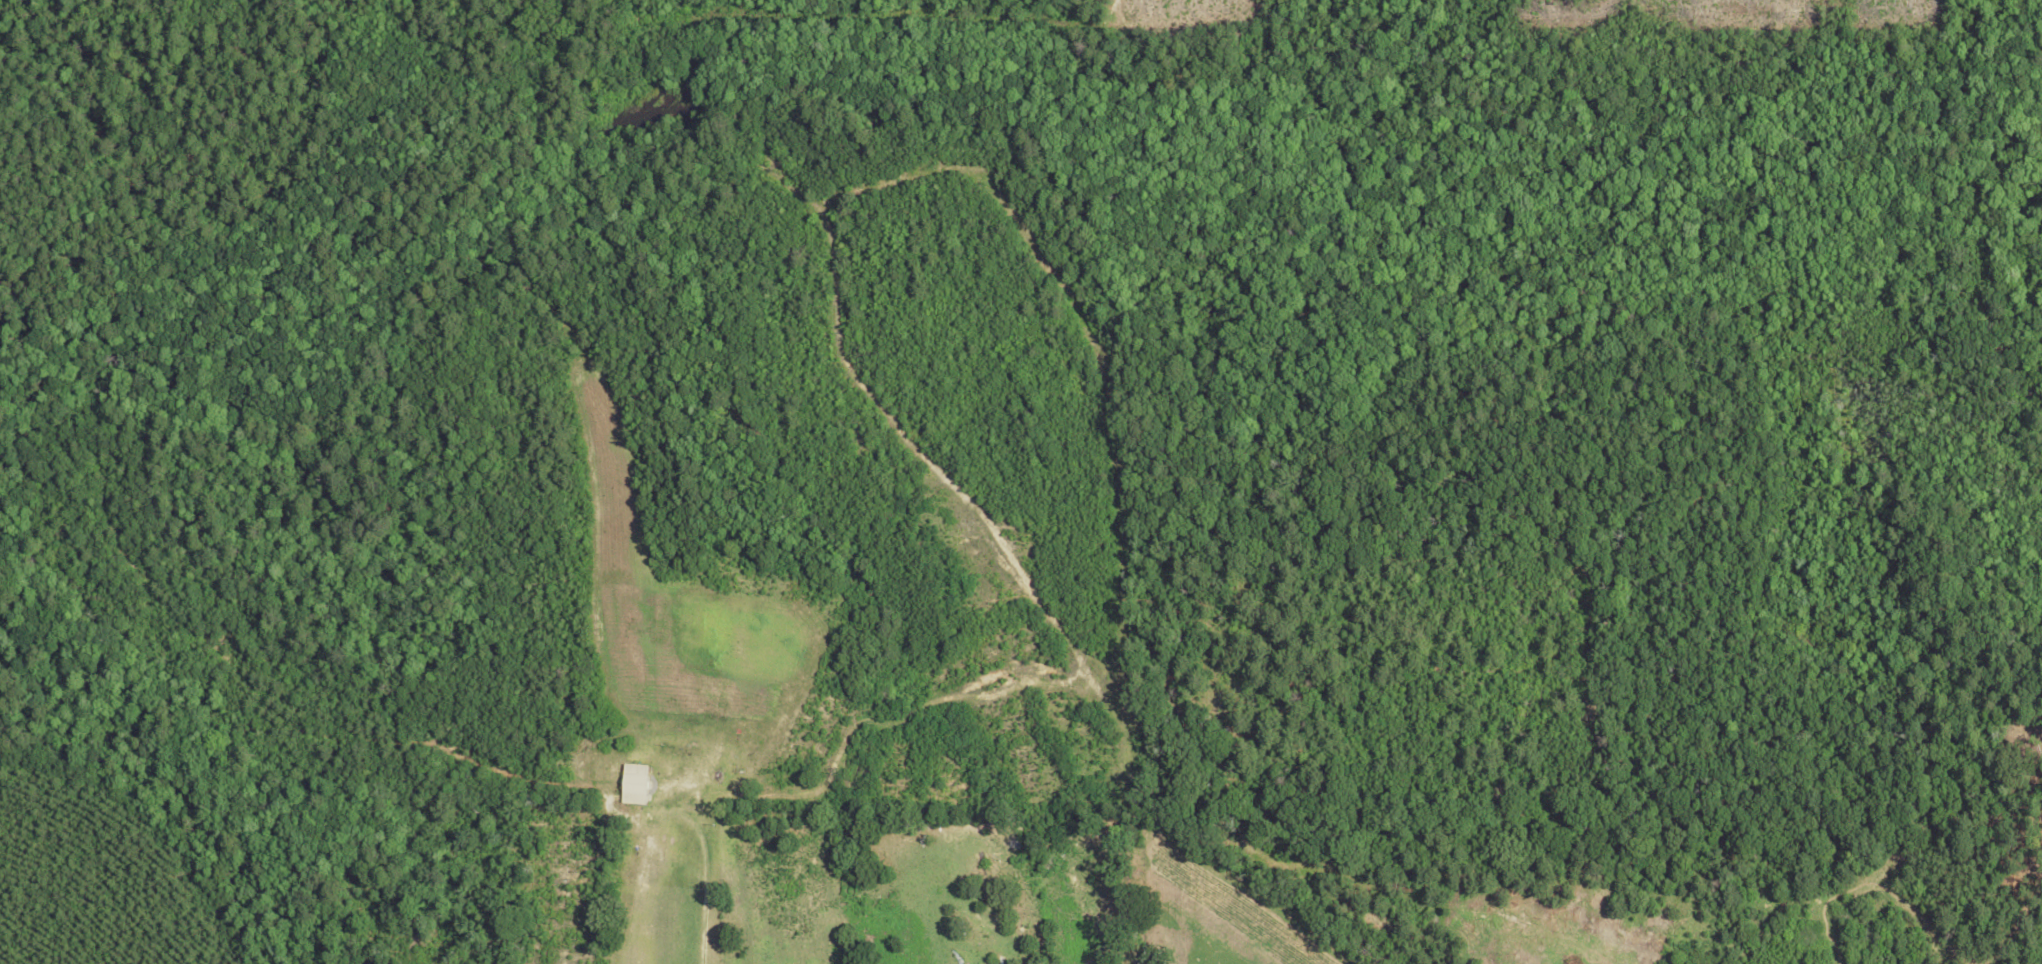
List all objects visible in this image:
building: (633, 783)
road: (699, 904)

